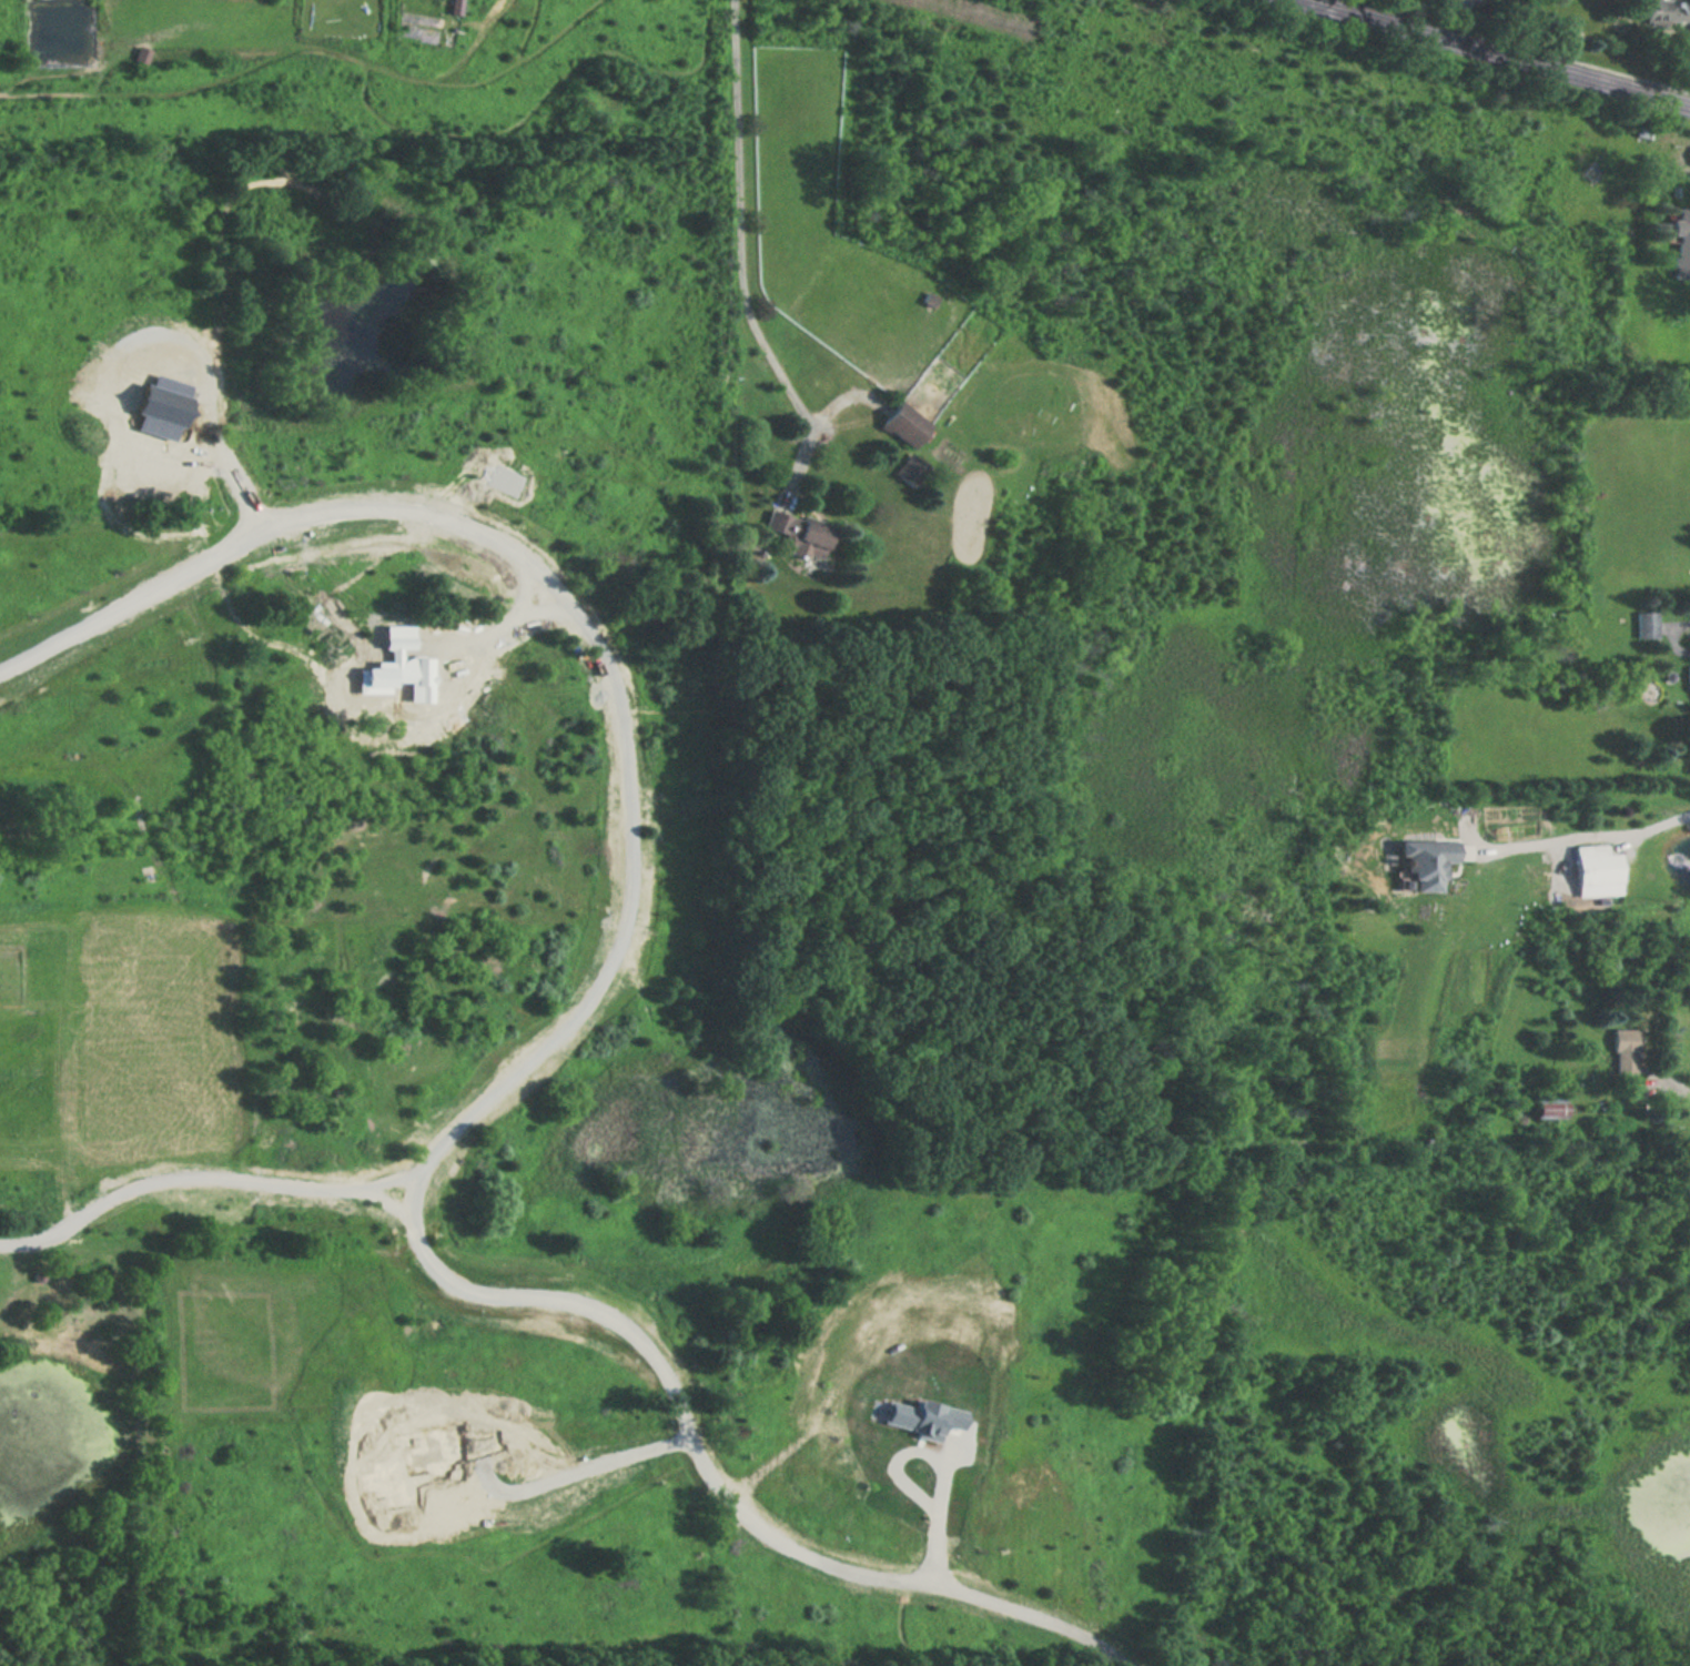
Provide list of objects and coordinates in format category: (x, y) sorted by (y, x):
building: (1663, 12)
road: (1495, 53)
road: (741, 220)
building: (1682, 243)
building: (905, 425)
building: (911, 471)
building: (799, 535)
road: (1674, 618)
building: (1647, 625)
building: (1688, 675)
road: (1588, 831)
building: (1421, 866)
building: (1597, 866)
road: (555, 1044)
building: (1626, 1052)
road: (1684, 1089)
road: (201, 1179)
road: (556, 1488)
road: (937, 1515)

